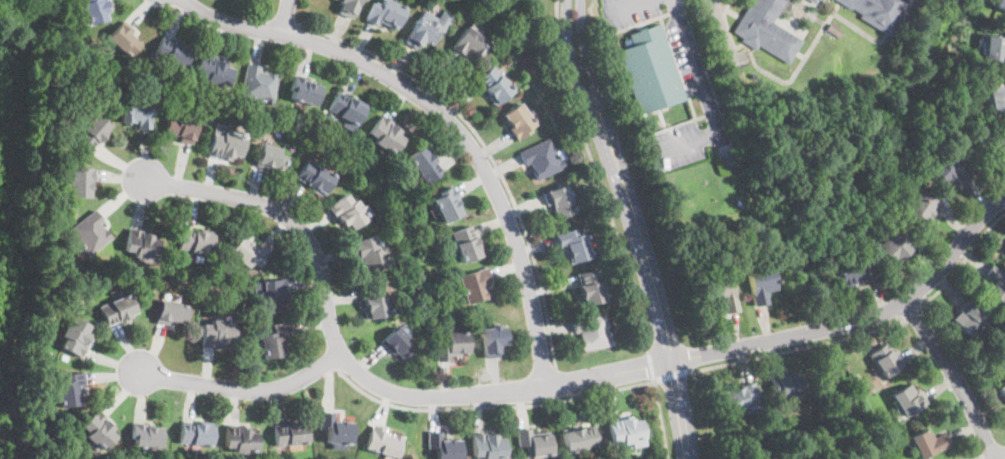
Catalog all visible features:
building: (821, 0)
building: (813, 1)
building: (1000, 4)
road: (625, 6)
building: (349, 7)
building: (489, 7)
building: (96, 10)
building: (879, 12)
building: (385, 14)
road: (283, 17)
building: (963, 18)
road: (720, 28)
building: (767, 30)
building: (834, 30)
building: (424, 32)
building: (952, 38)
building: (125, 40)
building: (470, 42)
building: (994, 50)
building: (172, 52)
building: (968, 61)
building: (649, 71)
building: (215, 72)
building: (258, 85)
building: (493, 86)
road: (593, 86)
building: (119, 89)
road: (579, 89)
building: (304, 91)
road: (707, 97)
building: (996, 97)
building: (347, 110)
building: (137, 115)
road: (445, 118)
building: (518, 121)
building: (181, 128)
building: (92, 132)
building: (387, 135)
building: (1001, 141)
building: (225, 147)
road: (487, 149)
building: (272, 159)
building: (543, 159)
building: (425, 165)
building: (950, 169)
road: (598, 176)
building: (315, 178)
building: (81, 183)
building: (881, 188)
building: (559, 201)
building: (446, 205)
building: (921, 207)
building: (64, 209)
building: (346, 212)
building: (90, 234)
building: (848, 239)
building: (196, 242)
building: (1004, 244)
building: (142, 245)
building: (467, 245)
building: (573, 245)
building: (896, 246)
building: (249, 252)
building: (367, 254)
road: (966, 259)
building: (856, 272)
building: (995, 284)
building: (474, 285)
building: (761, 285)
building: (591, 288)
building: (723, 294)
building: (270, 295)
building: (374, 302)
building: (118, 309)
building: (172, 312)
road: (917, 312)
road: (657, 313)
building: (968, 318)
road: (860, 320)
building: (592, 331)
building: (217, 334)
building: (76, 336)
building: (494, 340)
building: (274, 341)
building: (397, 343)
building: (452, 346)
road: (799, 347)
building: (886, 360)
road: (652, 366)
road: (355, 370)
road: (672, 375)
road: (953, 377)
road: (560, 384)
building: (788, 384)
road: (241, 389)
building: (70, 390)
building: (1002, 390)
building: (740, 400)
building: (908, 400)
road: (492, 408)
building: (875, 415)
road: (661, 420)
building: (626, 429)
park: (814, 429)
building: (99, 430)
building: (336, 430)
building: (196, 434)
building: (291, 434)
building: (146, 436)
building: (241, 439)
building: (580, 439)
building: (384, 442)
building: (535, 442)
building: (929, 444)
building: (444, 446)
building: (488, 446)
road: (999, 456)

